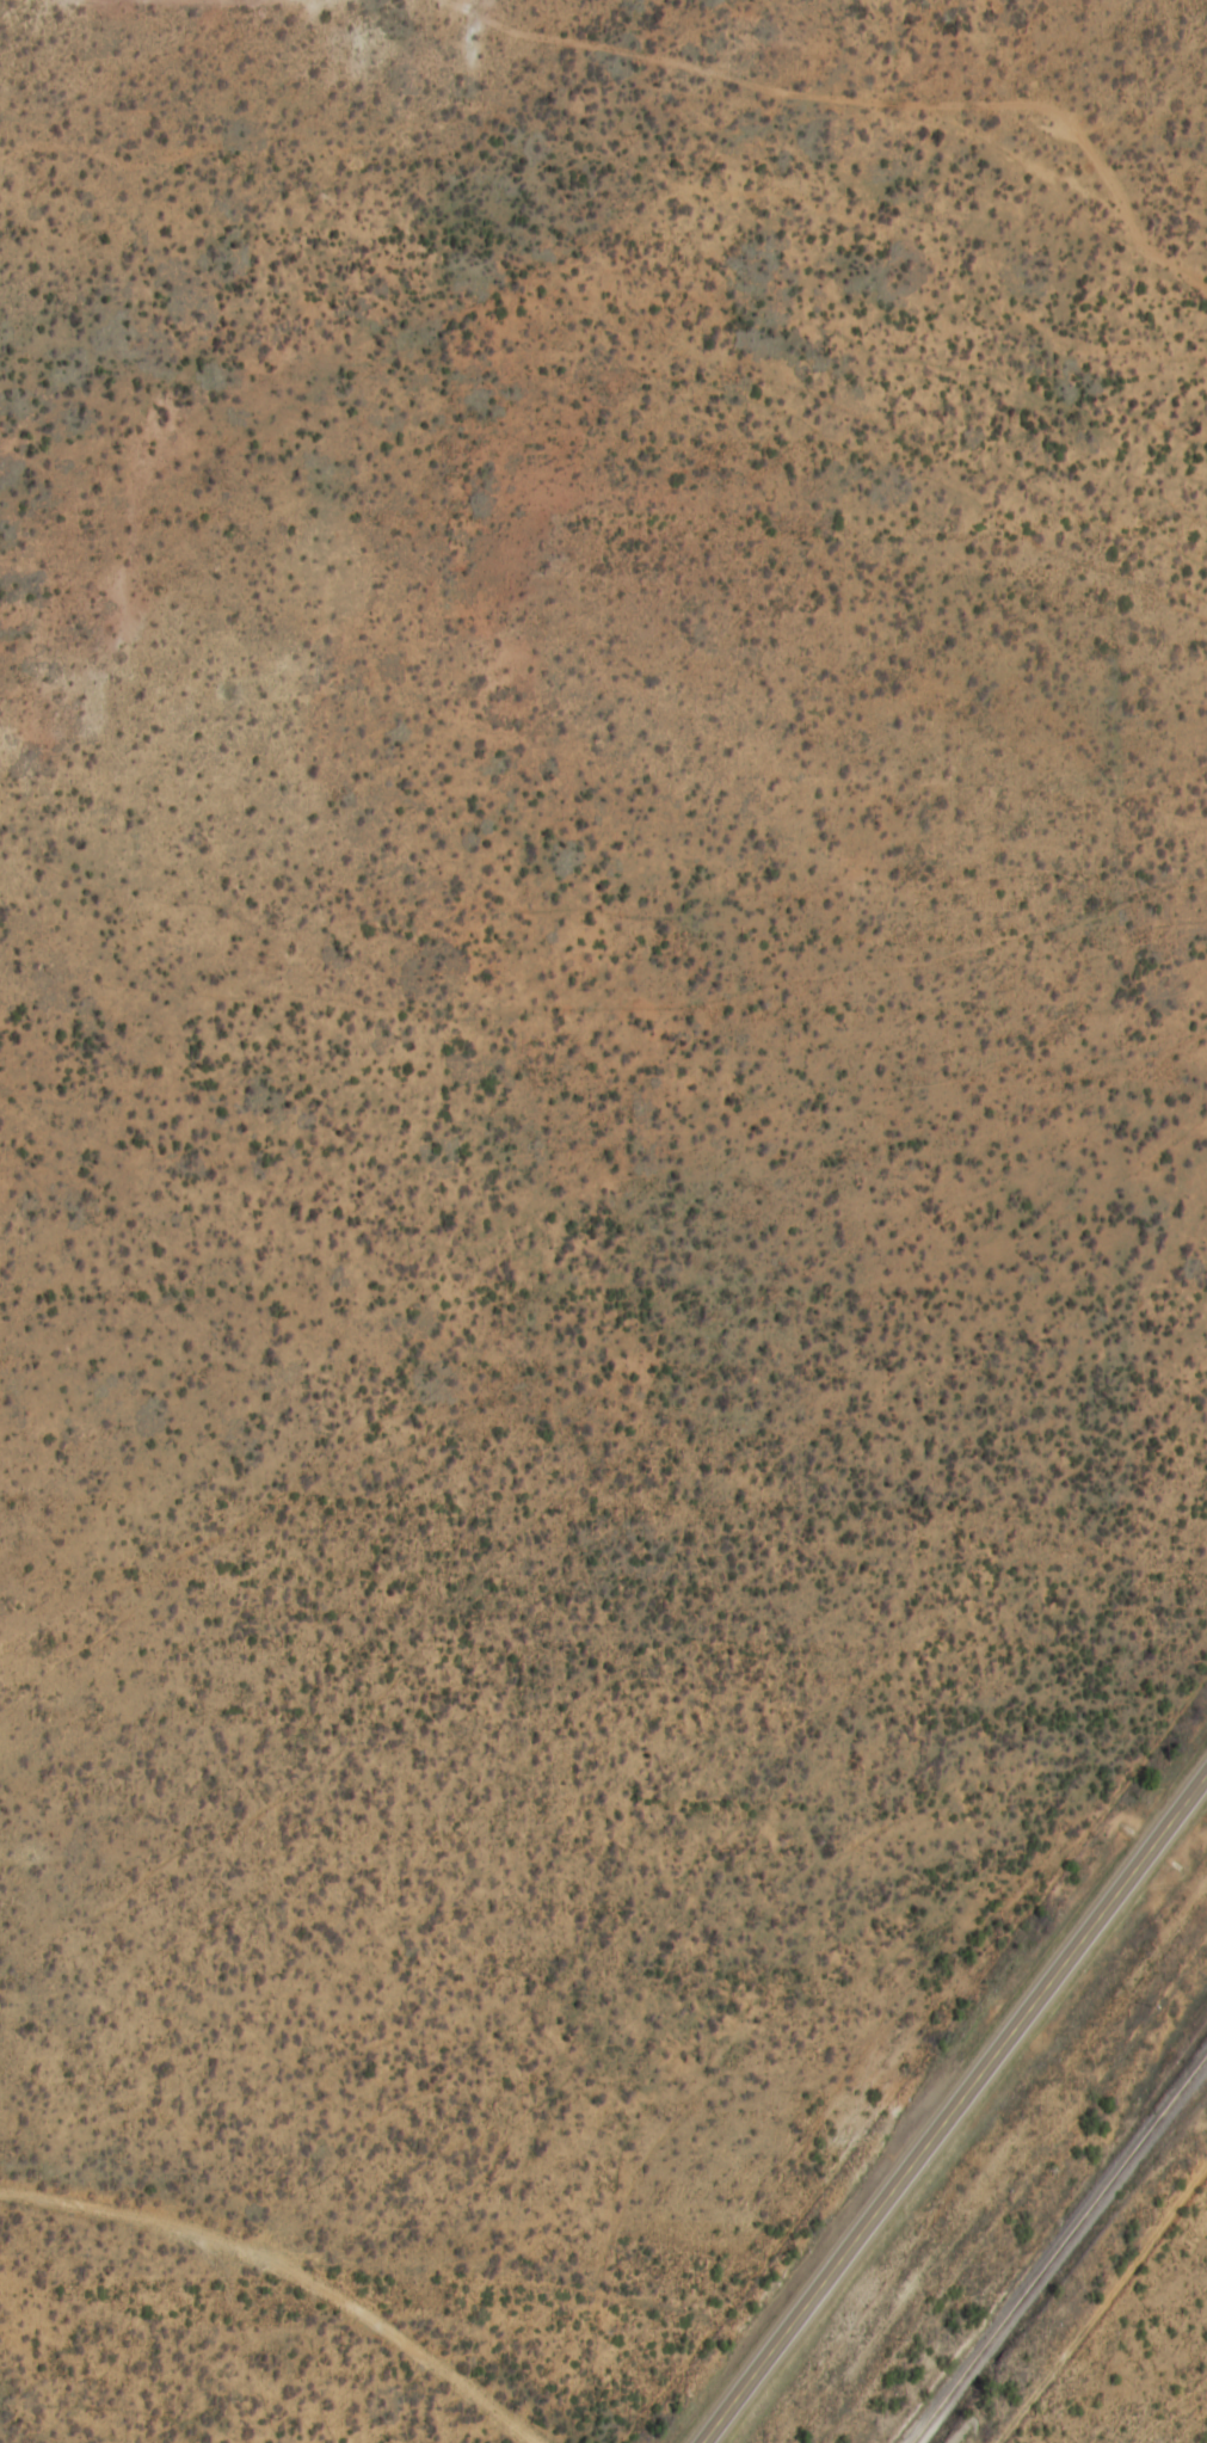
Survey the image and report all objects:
road: (954, 2107)
railway: (1060, 2248)
road: (284, 2275)

